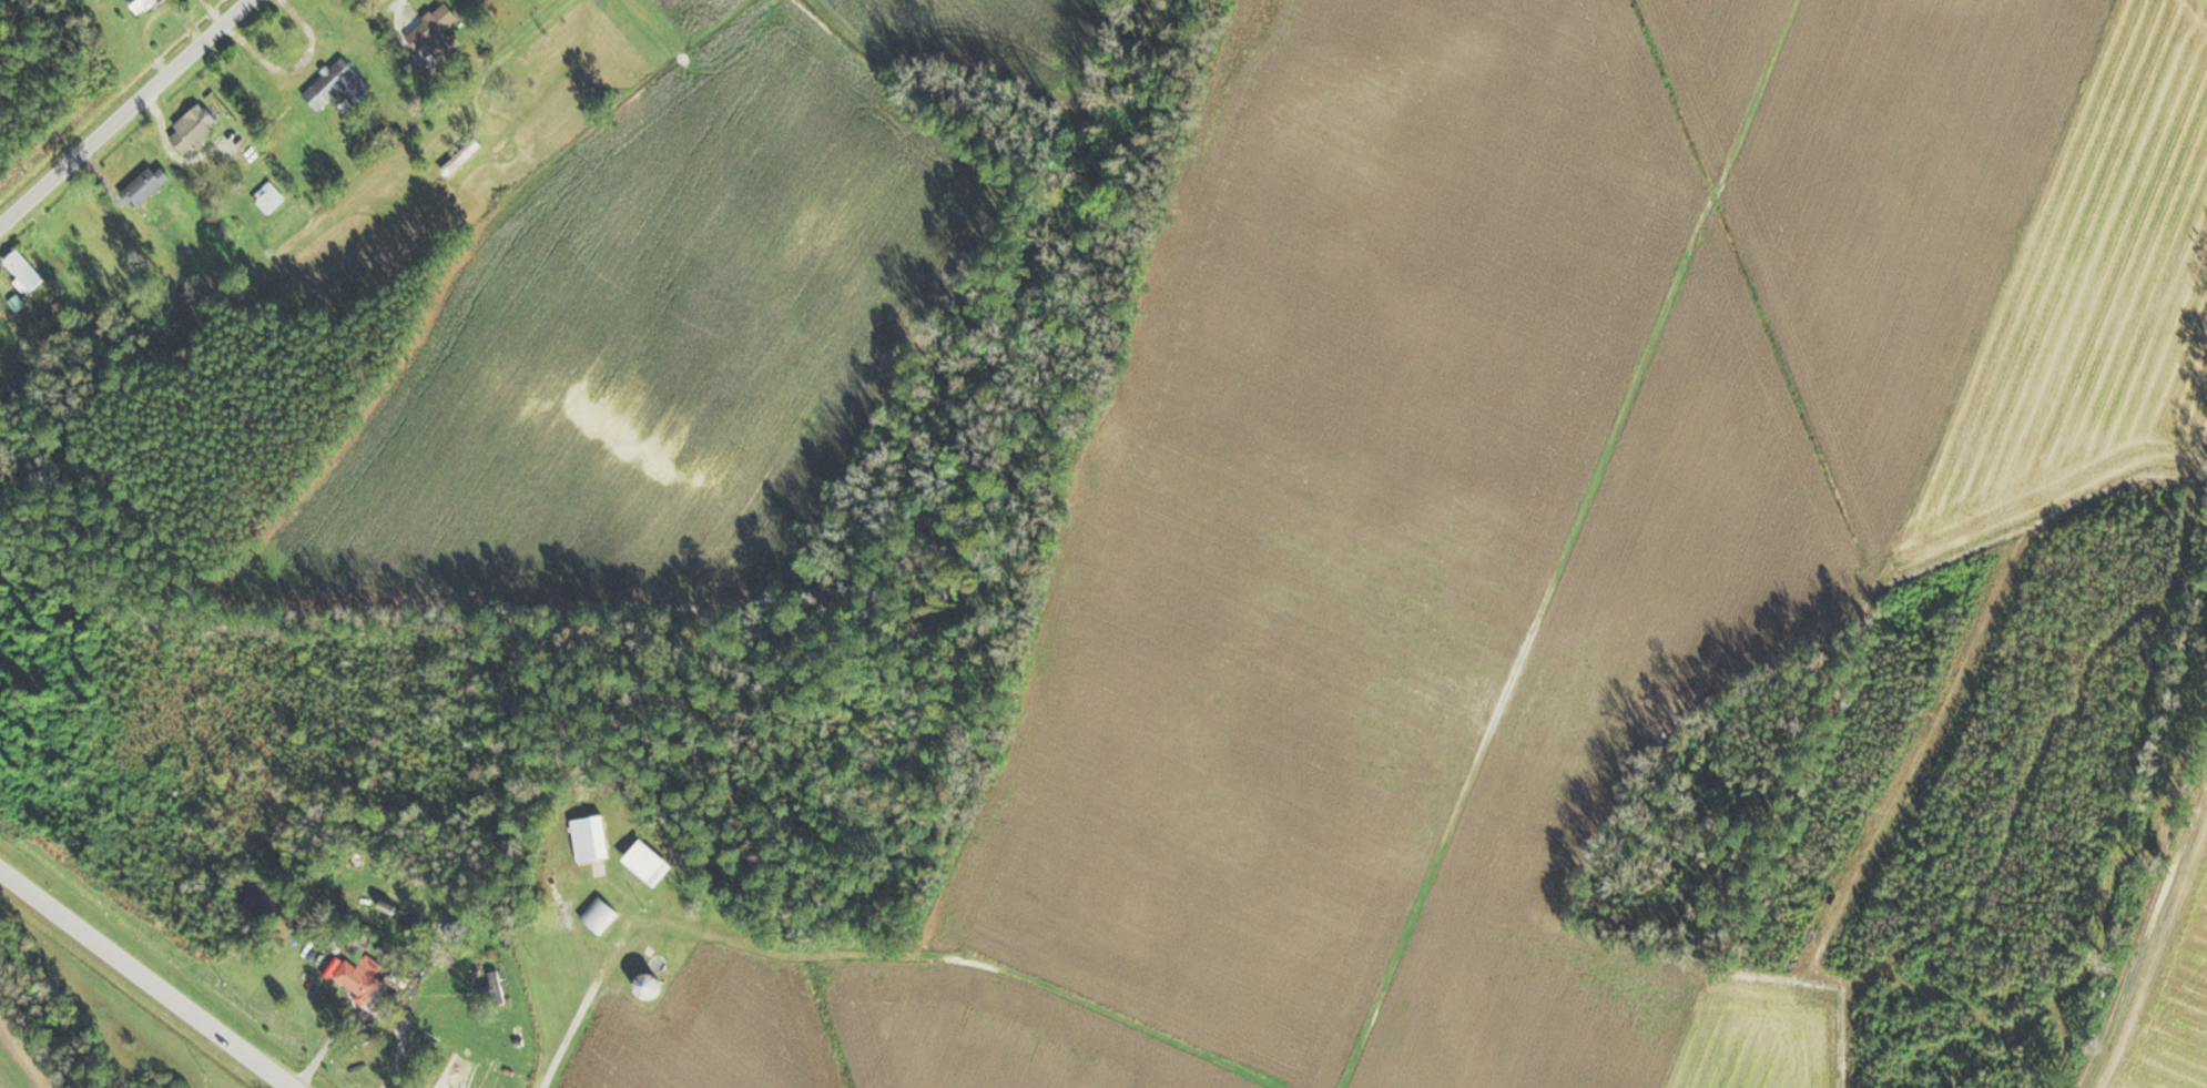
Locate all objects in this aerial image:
building: (435, 29)
road: (497, 63)
building: (333, 87)
road: (125, 112)
building: (193, 129)
building: (461, 156)
building: (144, 184)
building: (269, 196)
building: (22, 267)
building: (591, 836)
building: (398, 891)
building: (599, 914)
road: (146, 977)
building: (362, 982)
building: (645, 985)
building: (497, 986)

